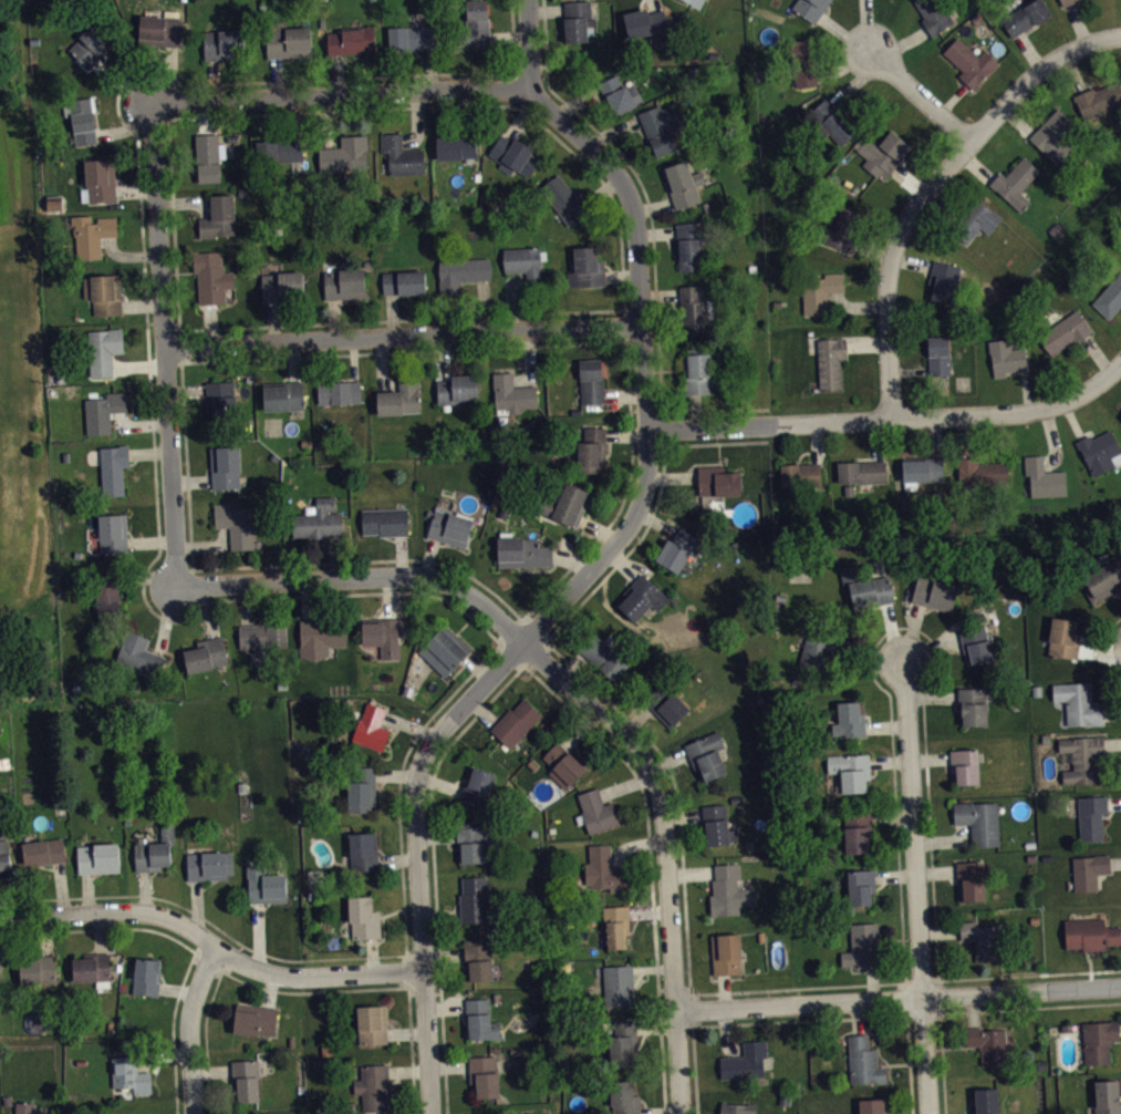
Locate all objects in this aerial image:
building: (695, 2)
building: (1067, 2)
building: (810, 8)
building: (934, 14)
building: (1025, 16)
building: (577, 20)
building: (646, 23)
building: (474, 25)
building: (157, 30)
building: (411, 37)
building: (288, 39)
building: (349, 40)
building: (93, 43)
building: (228, 44)
building: (803, 61)
building: (969, 61)
road: (921, 92)
building: (620, 93)
road: (341, 95)
building: (1098, 99)
building: (82, 118)
building: (832, 121)
building: (658, 127)
building: (1052, 135)
building: (455, 146)
building: (280, 149)
building: (883, 153)
building: (344, 154)
building: (513, 155)
building: (208, 156)
building: (403, 156)
building: (101, 179)
building: (1015, 182)
road: (934, 183)
building: (682, 184)
road: (629, 196)
building: (563, 199)
building: (218, 217)
building: (976, 220)
building: (843, 228)
building: (92, 234)
building: (689, 246)
building: (525, 261)
building: (585, 267)
building: (460, 275)
building: (211, 276)
building: (943, 280)
building: (403, 281)
building: (344, 282)
building: (282, 286)
building: (820, 291)
building: (104, 293)
building: (1109, 297)
building: (694, 309)
building: (1063, 332)
road: (402, 334)
road: (163, 344)
building: (104, 350)
building: (938, 355)
building: (1005, 357)
building: (830, 361)
building: (696, 370)
building: (591, 381)
building: (457, 388)
building: (339, 391)
building: (512, 393)
building: (283, 394)
building: (401, 396)
building: (220, 403)
building: (103, 411)
road: (891, 415)
building: (591, 450)
building: (1100, 452)
building: (225, 467)
building: (114, 468)
building: (921, 470)
building: (980, 471)
building: (862, 472)
building: (800, 474)
building: (1044, 477)
building: (717, 481)
building: (567, 505)
building: (318, 519)
building: (385, 520)
building: (236, 524)
building: (448, 527)
building: (112, 533)
building: (678, 549)
building: (522, 551)
road: (622, 563)
road: (360, 575)
road: (601, 579)
building: (1101, 579)
building: (865, 586)
building: (935, 592)
building: (107, 597)
building: (642, 597)
road: (902, 625)
road: (912, 631)
road: (892, 632)
building: (383, 633)
building: (321, 636)
building: (261, 637)
building: (1062, 637)
building: (976, 642)
road: (931, 644)
road: (1106, 644)
building: (821, 648)
building: (445, 650)
road: (1100, 650)
road: (875, 653)
building: (138, 654)
building: (206, 654)
road: (540, 656)
building: (603, 656)
road: (507, 657)
road: (501, 685)
road: (933, 695)
building: (1078, 702)
building: (667, 703)
building: (974, 705)
road: (1111, 713)
road: (635, 718)
building: (850, 719)
building: (515, 722)
road: (886, 724)
building: (371, 726)
road: (579, 726)
road: (436, 735)
road: (1112, 743)
building: (707, 754)
road: (930, 756)
building: (1081, 756)
road: (670, 760)
road: (889, 761)
building: (564, 764)
building: (966, 765)
building: (851, 770)
road: (674, 783)
road: (626, 784)
building: (476, 787)
building: (362, 788)
building: (737, 798)
road: (1114, 802)
building: (595, 812)
road: (683, 814)
road: (892, 816)
building: (1091, 816)
building: (979, 819)
building: (718, 824)
building: (858, 831)
building: (473, 839)
road: (944, 839)
building: (3, 844)
road: (634, 844)
building: (44, 848)
building: (155, 848)
building: (363, 849)
road: (666, 849)
building: (98, 855)
road: (1115, 862)
building: (210, 864)
road: (651, 864)
building: (604, 868)
road: (936, 868)
building: (1089, 869)
road: (692, 870)
road: (895, 875)
building: (972, 880)
building: (264, 884)
building: (861, 885)
road: (916, 887)
building: (729, 889)
building: (474, 897)
road: (650, 911)
building: (363, 915)
building: (616, 924)
road: (940, 930)
building: (1090, 932)
building: (983, 937)
road: (210, 943)
building: (862, 943)
building: (726, 952)
building: (477, 958)
building: (0, 965)
building: (92, 966)
building: (118, 967)
building: (39, 968)
road: (653, 968)
road: (1029, 972)
building: (147, 973)
road: (921, 976)
building: (617, 981)
road: (872, 981)
road: (797, 986)
building: (123, 987)
road: (942, 994)
road: (897, 998)
road: (899, 998)
road: (1032, 1005)
road: (697, 1008)
road: (972, 1009)
road: (857, 1015)
road: (923, 1015)
road: (725, 1017)
building: (481, 1018)
building: (256, 1019)
road: (800, 1019)
building: (372, 1022)
road: (655, 1025)
building: (110, 1027)
road: (188, 1028)
road: (1120, 1028)
building: (1099, 1039)
building: (623, 1041)
building: (988, 1042)
building: (862, 1059)
building: (745, 1060)
building: (80, 1061)
road: (942, 1061)
road: (910, 1063)
road: (695, 1069)
building: (129, 1073)
building: (485, 1073)
building: (246, 1077)
building: (373, 1084)
building: (624, 1096)
building: (1107, 1096)
building: (7, 1098)
building: (985, 1100)
building: (872, 1105)
building: (27, 1107)
building: (737, 1107)
road: (661, 1111)
building: (494, 1113)

